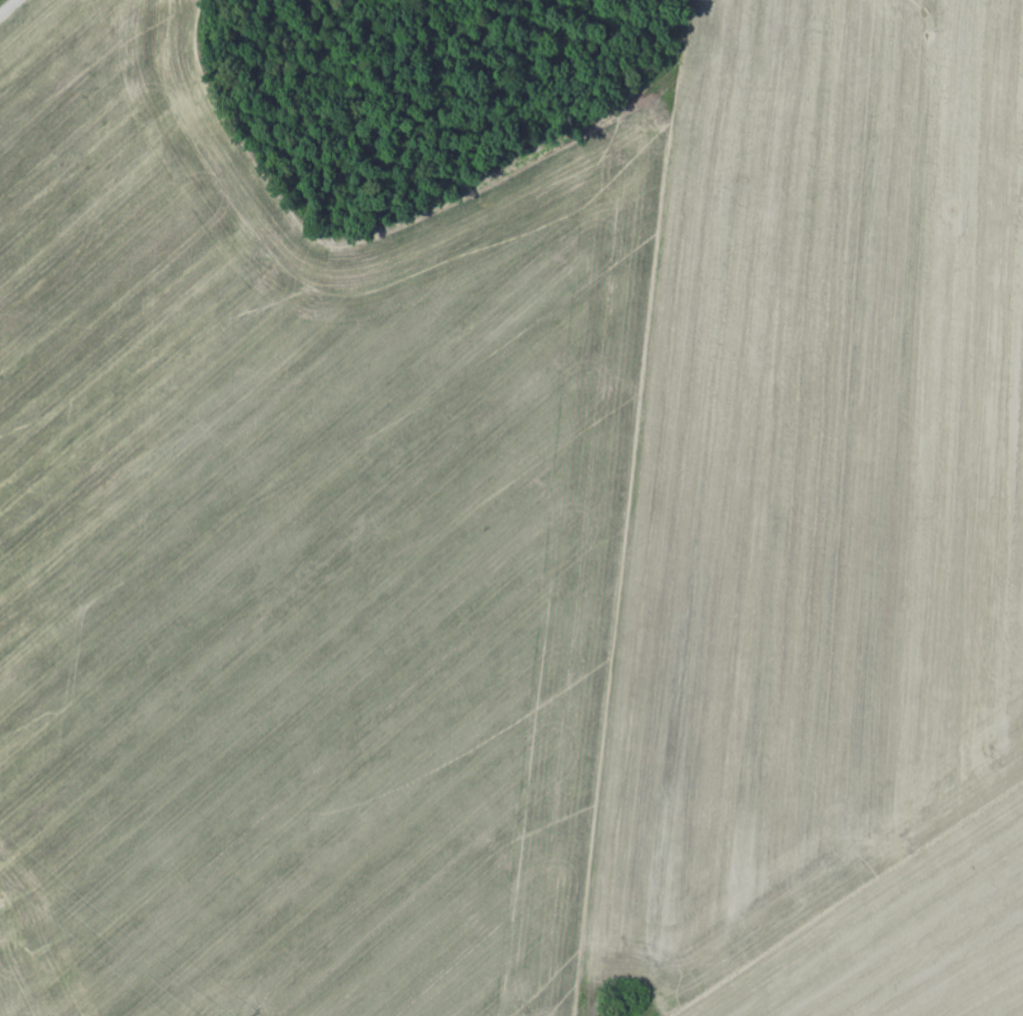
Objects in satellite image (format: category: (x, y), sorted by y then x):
road: (7, 6)

